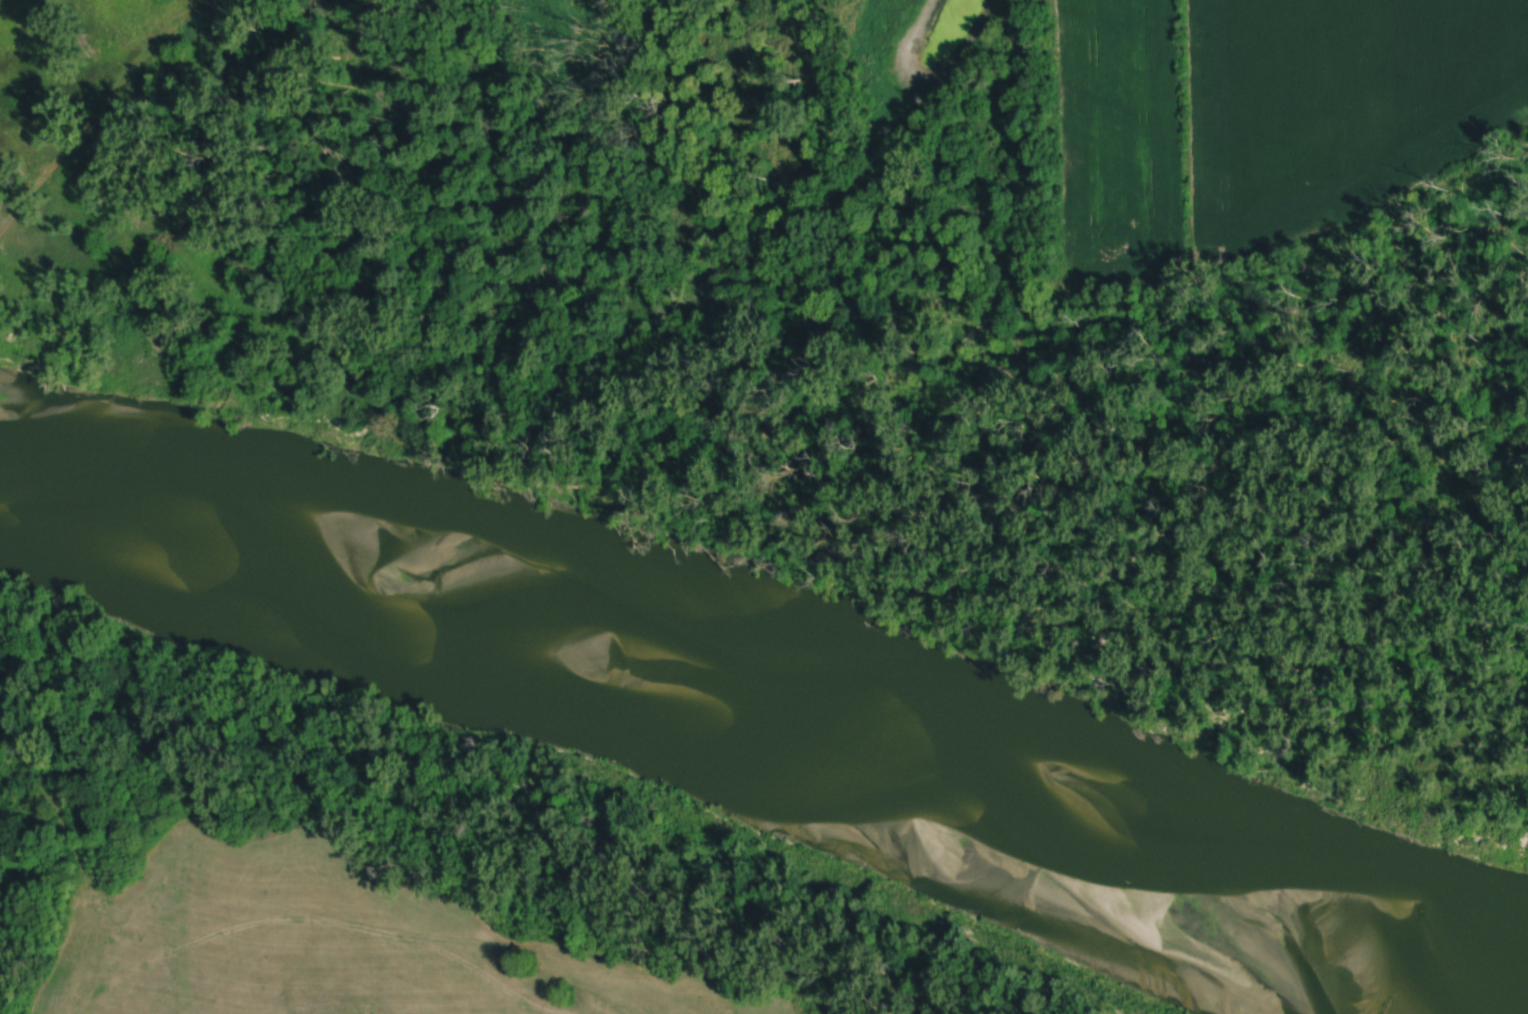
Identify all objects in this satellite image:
road: (132, 224)
road: (351, 440)
river: (774, 646)

